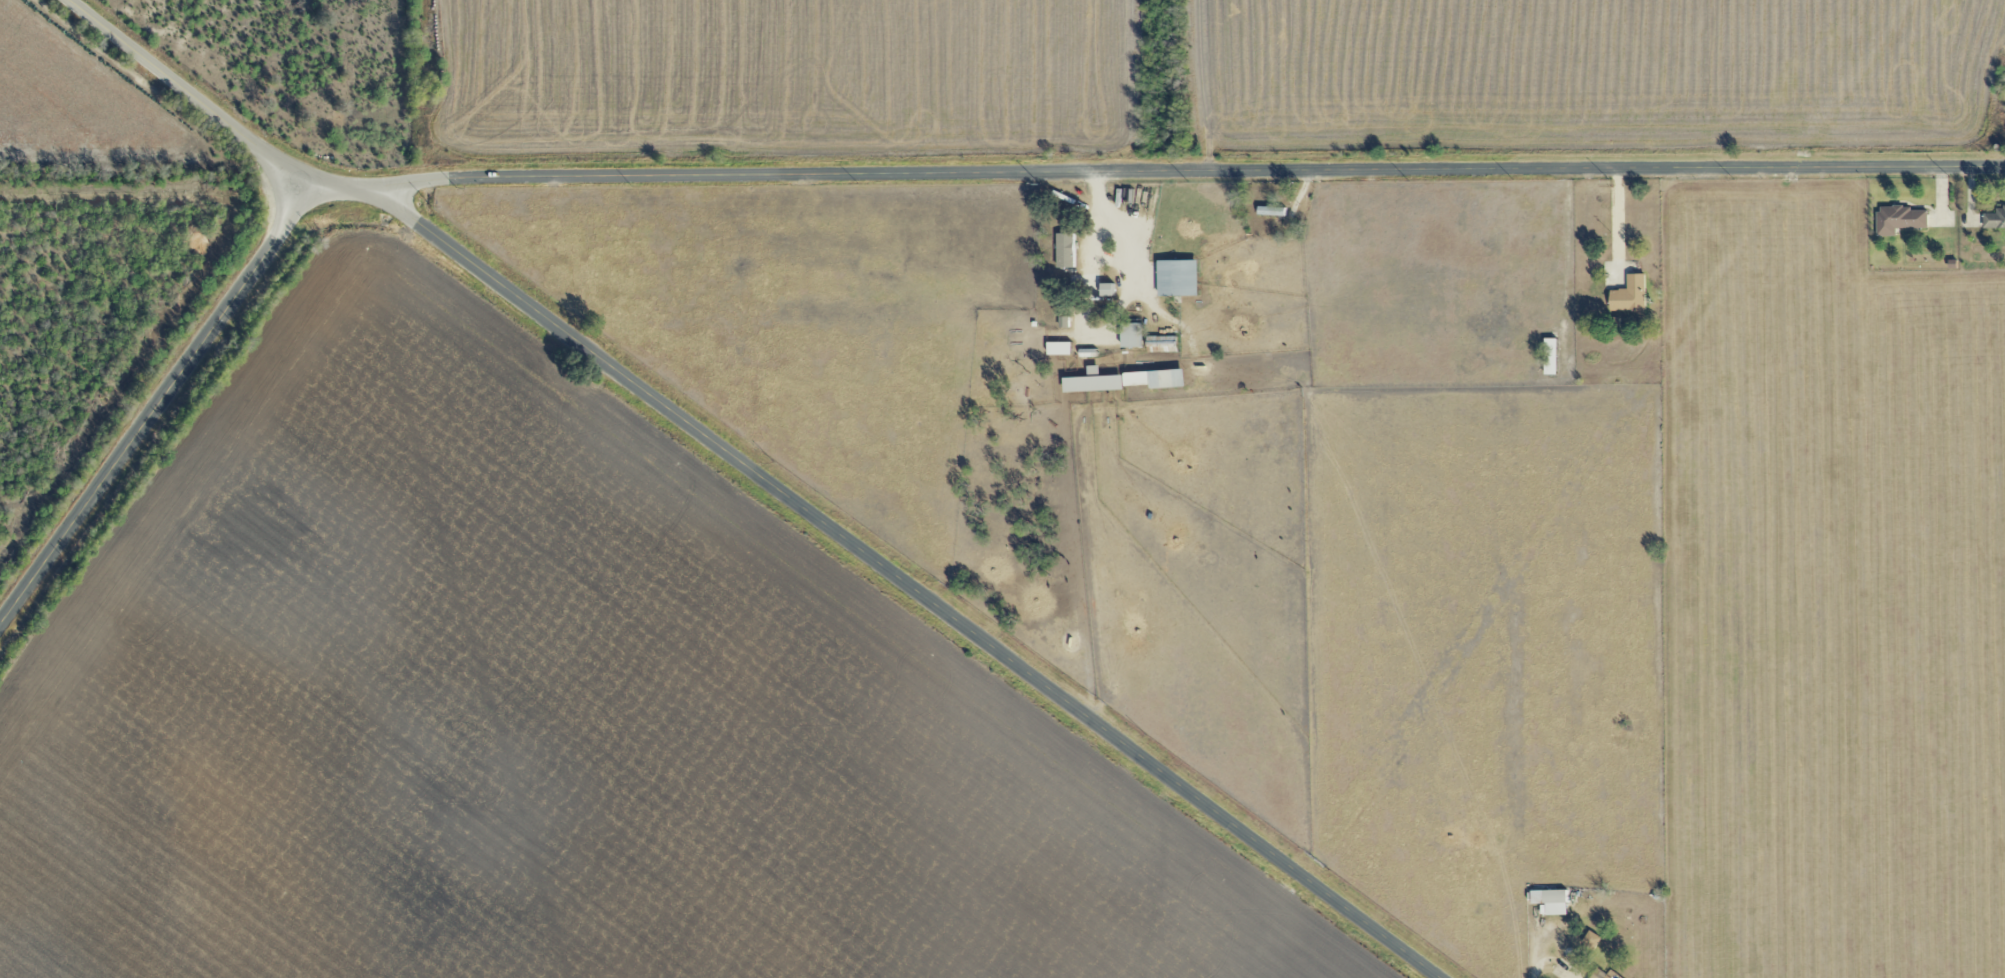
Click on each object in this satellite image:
road: (186, 93)
road: (1179, 172)
building: (1899, 220)
building: (1994, 220)
road: (1616, 222)
building: (1065, 251)
building: (1178, 278)
building: (1629, 295)
building: (1060, 349)
building: (1550, 357)
building: (1146, 380)
road: (158, 401)
road: (881, 566)
building: (1551, 901)
building: (1591, 940)
building: (1598, 974)

